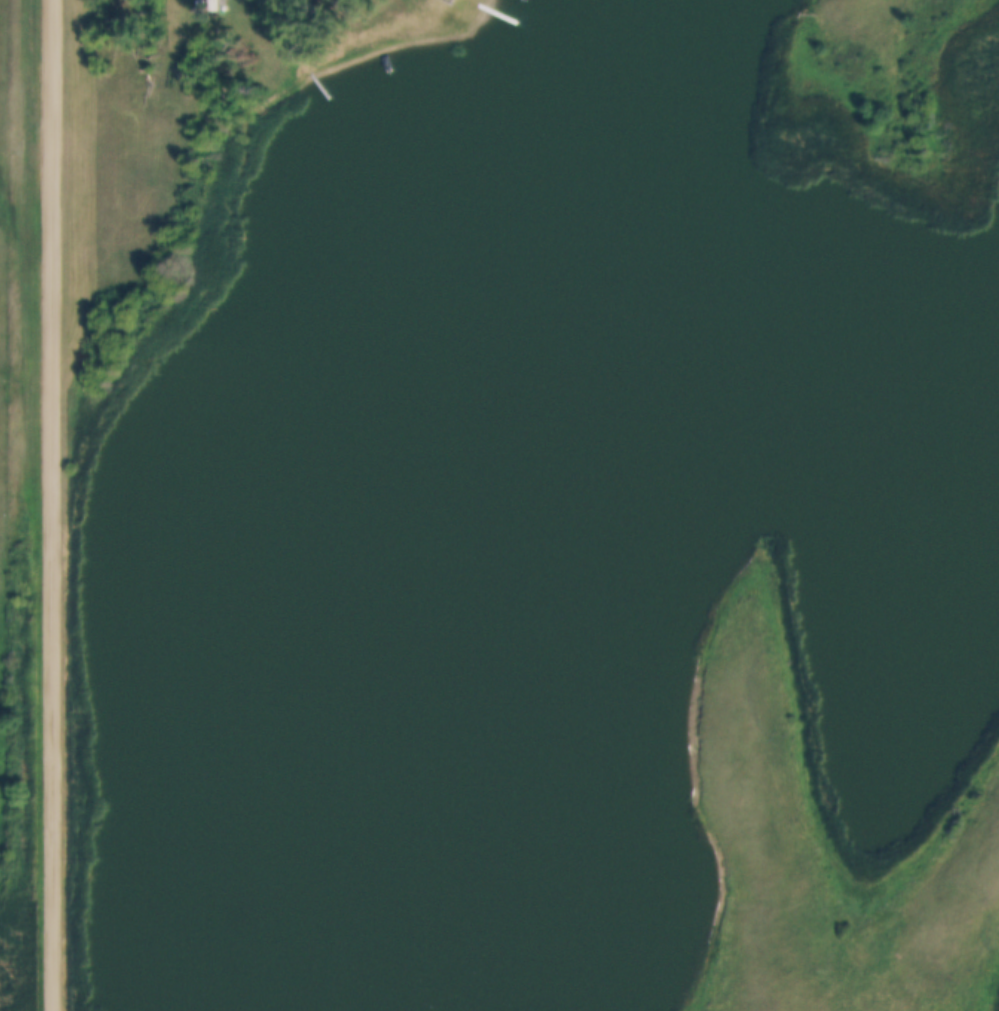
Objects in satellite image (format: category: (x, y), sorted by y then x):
road: (51, 505)

